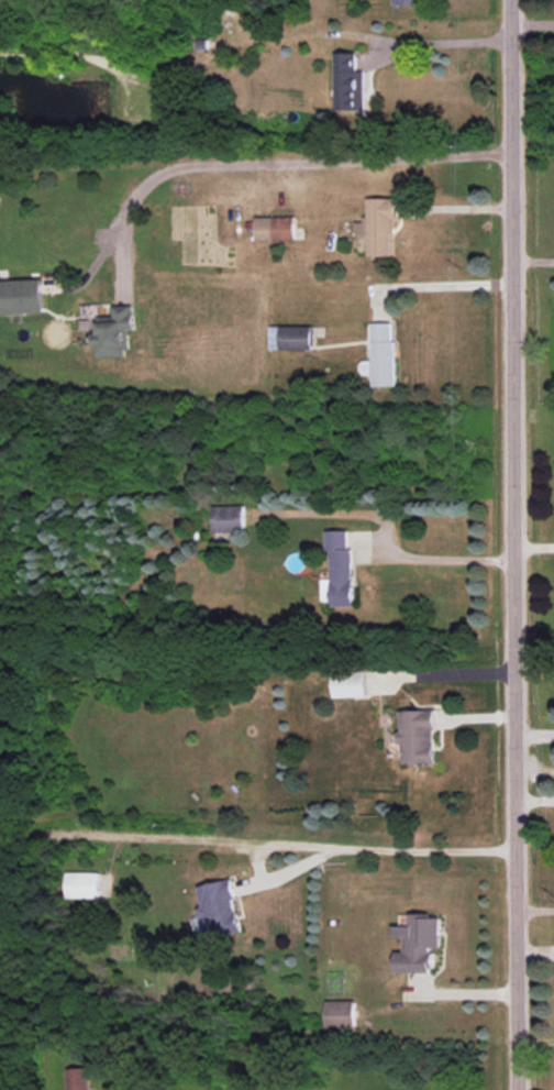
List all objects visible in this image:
building: (408, 2)
road: (533, 31)
road: (451, 49)
building: (350, 82)
road: (276, 172)
building: (379, 227)
building: (276, 228)
road: (533, 260)
road: (436, 291)
building: (21, 296)
building: (291, 337)
building: (381, 355)
building: (229, 518)
road: (514, 544)
road: (534, 547)
road: (443, 566)
building: (340, 569)
road: (444, 672)
building: (351, 684)
building: (419, 736)
road: (535, 775)
road: (403, 859)
building: (84, 884)
building: (221, 909)
road: (536, 912)
building: (419, 944)
building: (341, 1013)
building: (78, 1079)

